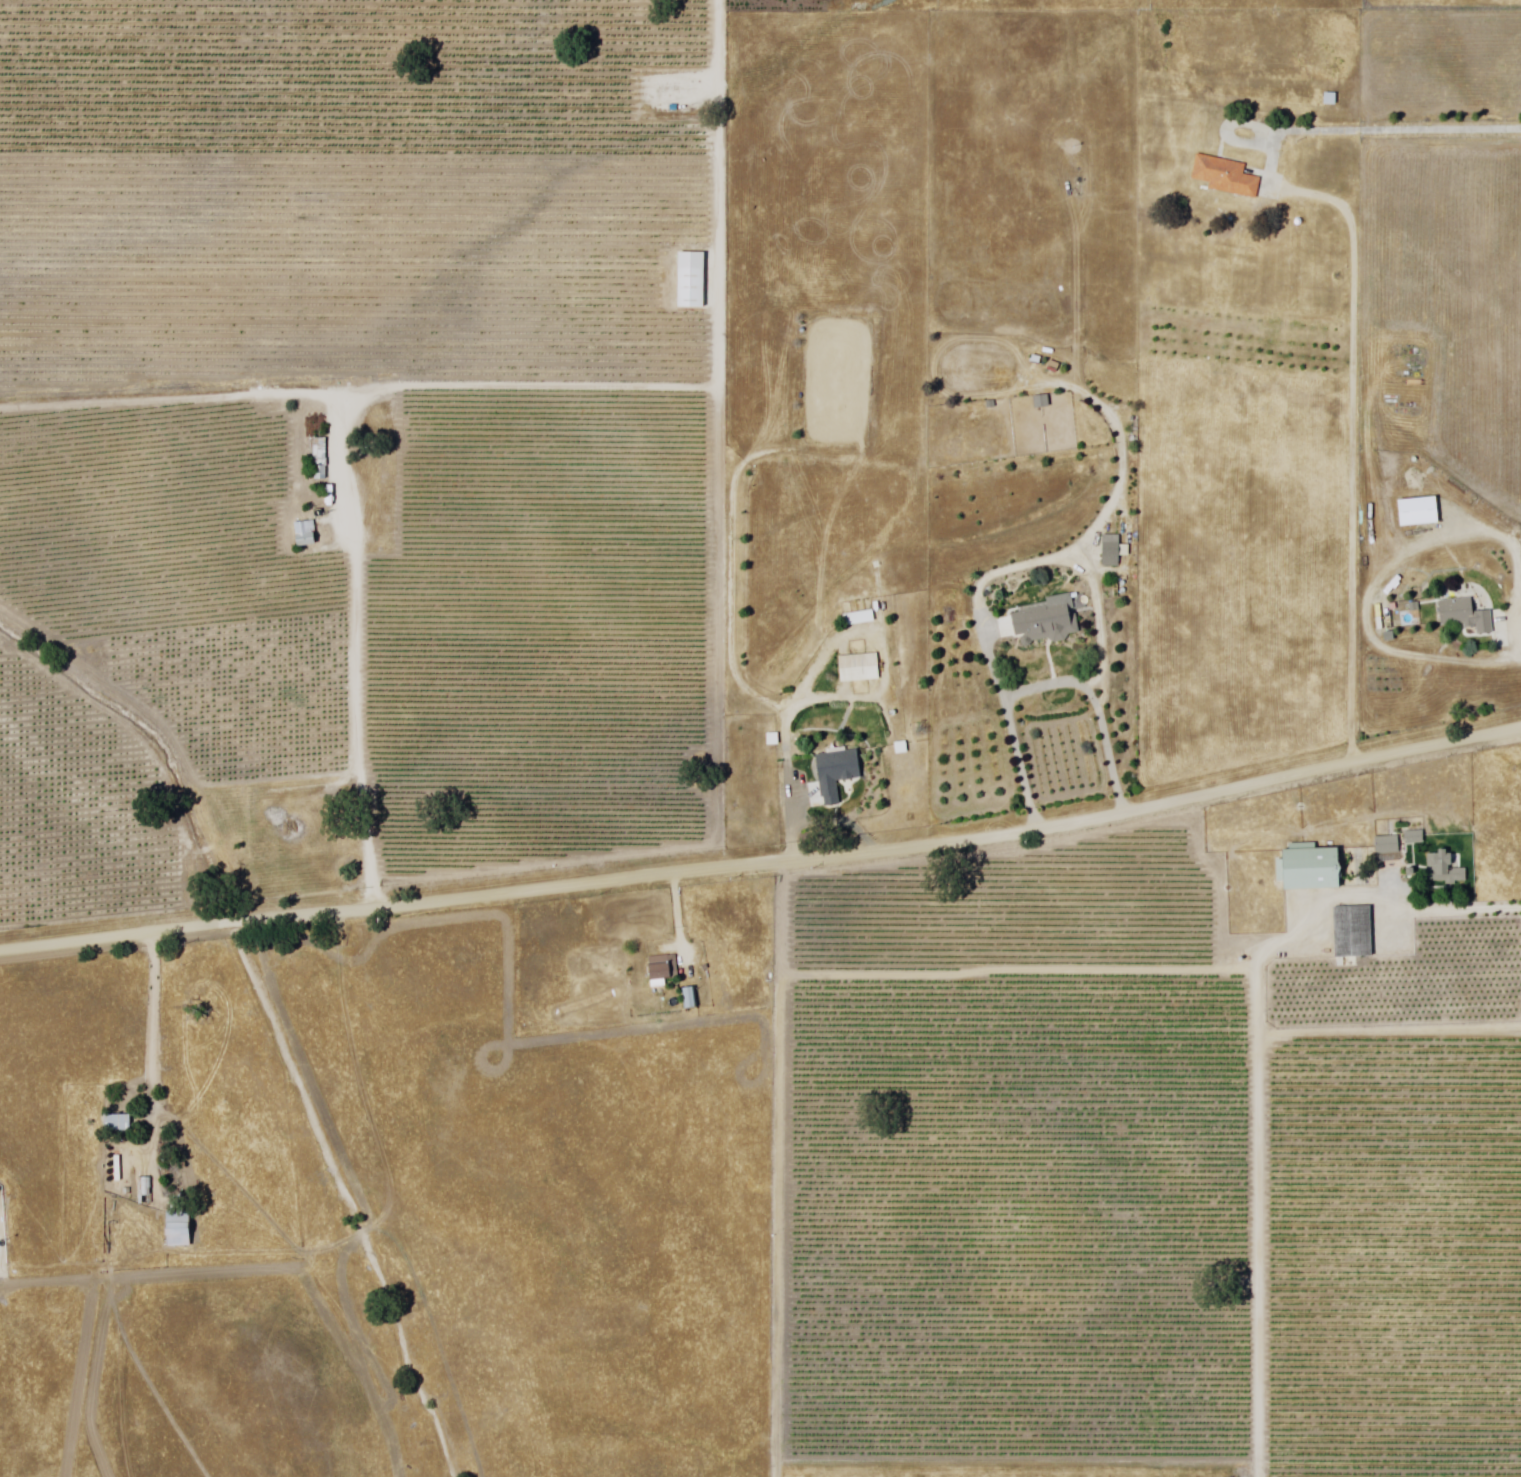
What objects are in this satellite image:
building: (1332, 99)
building: (1228, 177)
building: (692, 281)
building: (1042, 402)
building: (992, 406)
road: (1354, 446)
building: (321, 464)
road: (336, 495)
building: (1416, 513)
building: (306, 532)
building: (1114, 550)
building: (1415, 604)
building: (1466, 615)
building: (860, 617)
building: (1045, 622)
building: (1389, 633)
road: (1514, 642)
building: (860, 667)
road: (1047, 685)
building: (773, 739)
building: (903, 748)
building: (835, 777)
road: (791, 783)
building: (1389, 845)
road: (764, 862)
building: (1311, 869)
building: (1446, 869)
road: (680, 917)
building: (1354, 933)
building: (665, 969)
building: (692, 998)
road: (157, 1017)
road: (1251, 1063)
building: (118, 1124)
building: (146, 1191)
building: (180, 1228)

